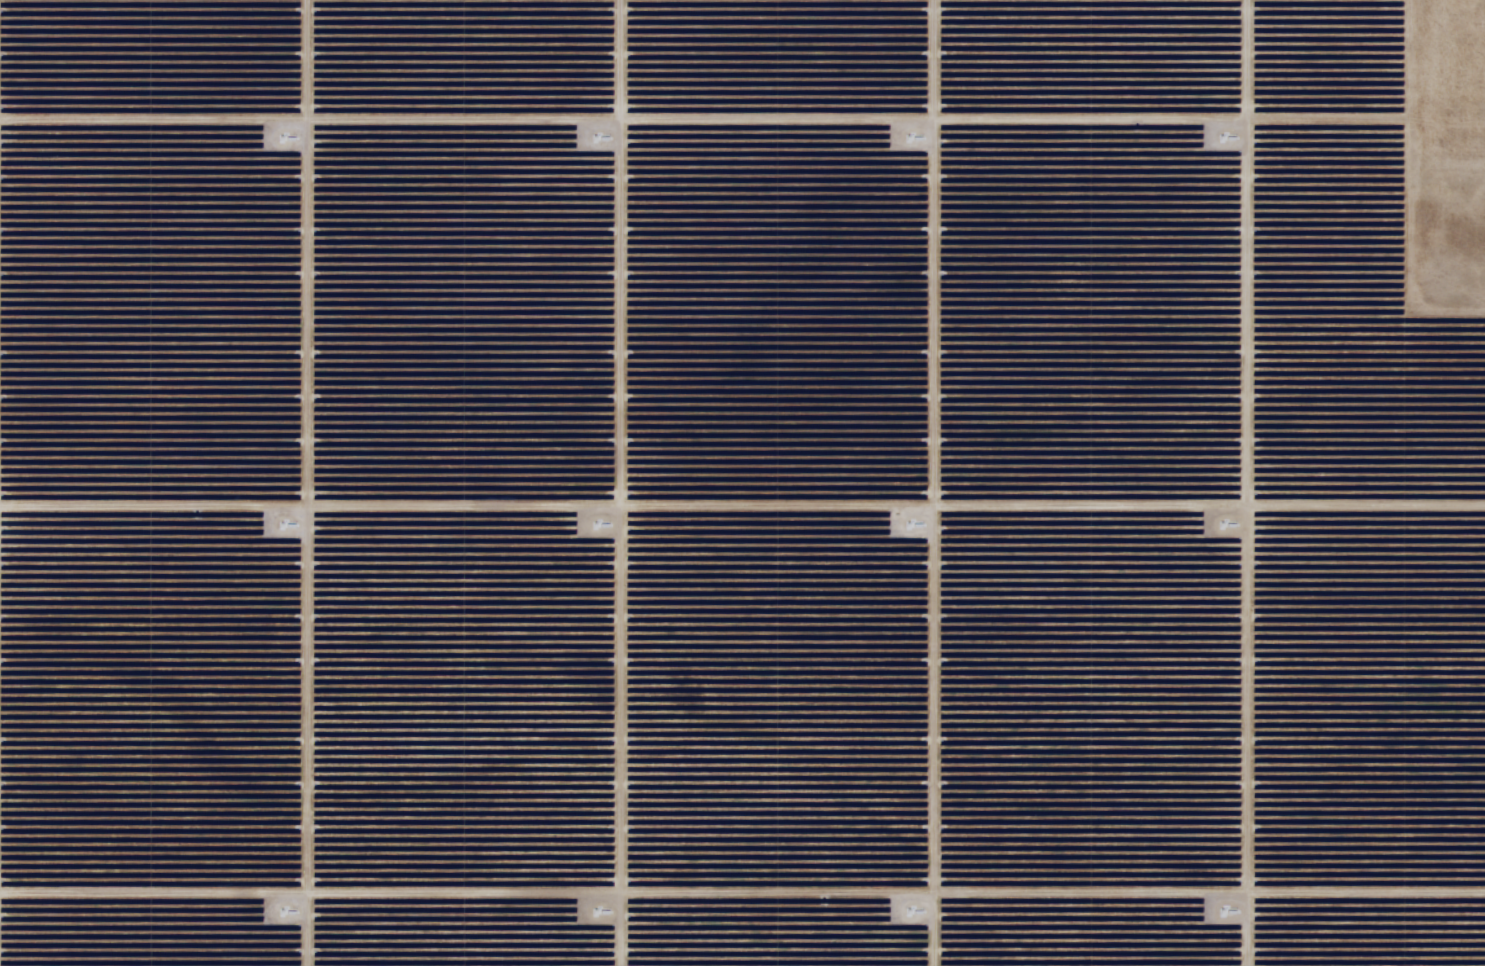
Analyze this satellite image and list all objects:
solar farm: (742, 483)

